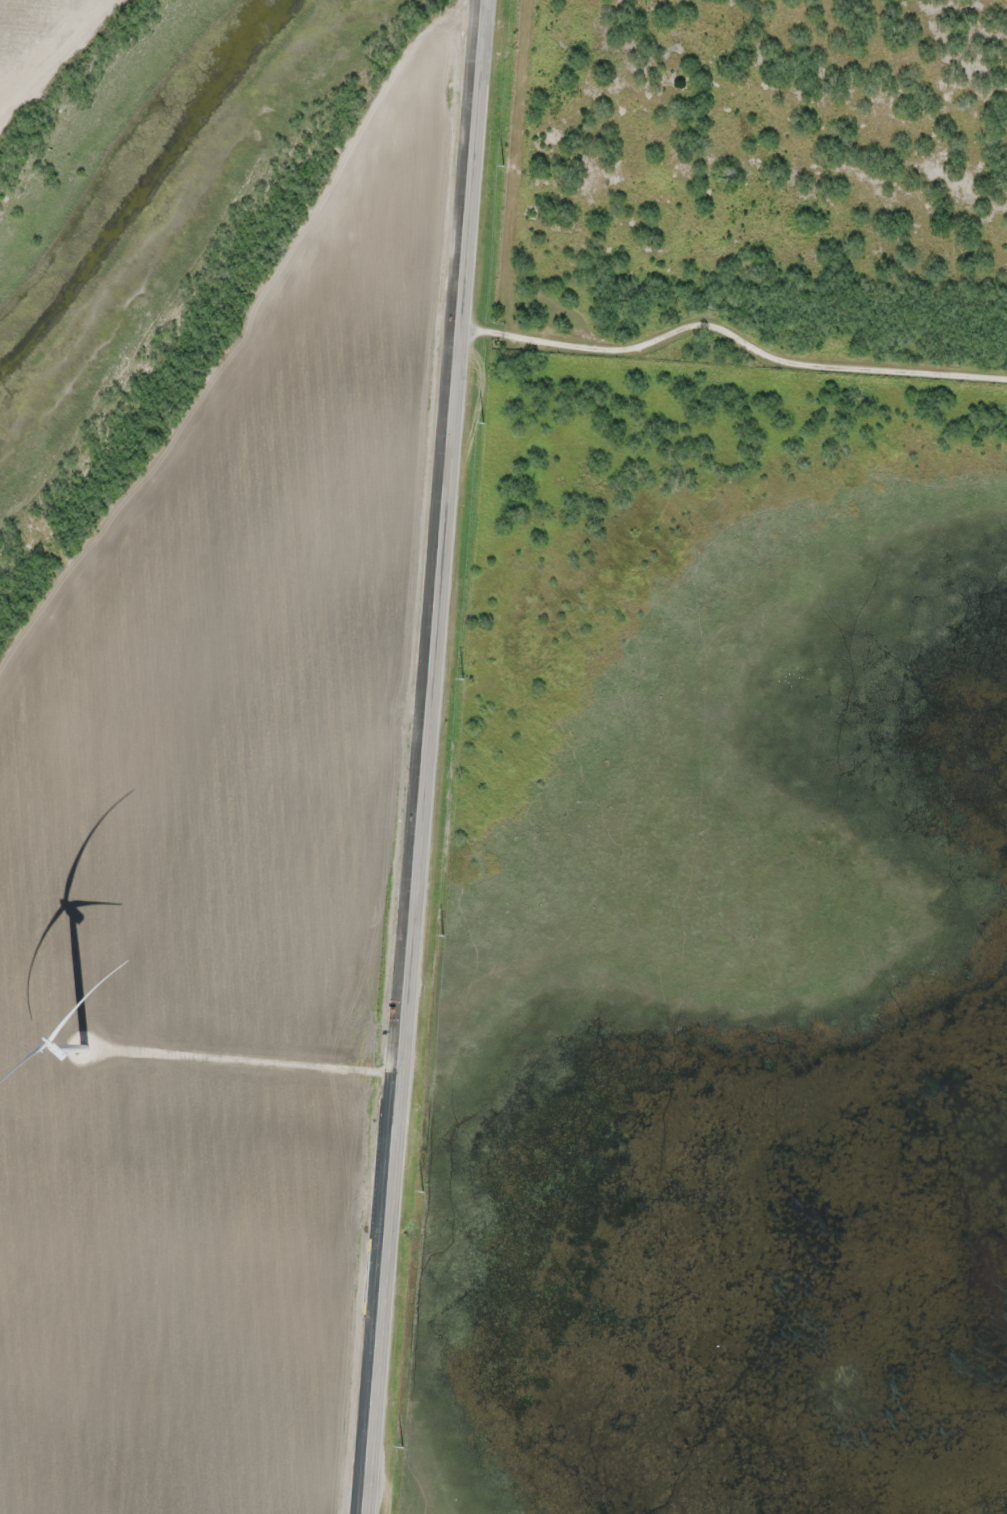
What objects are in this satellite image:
road: (735, 332)
road: (428, 757)
wind turbine: (85, 1050)

